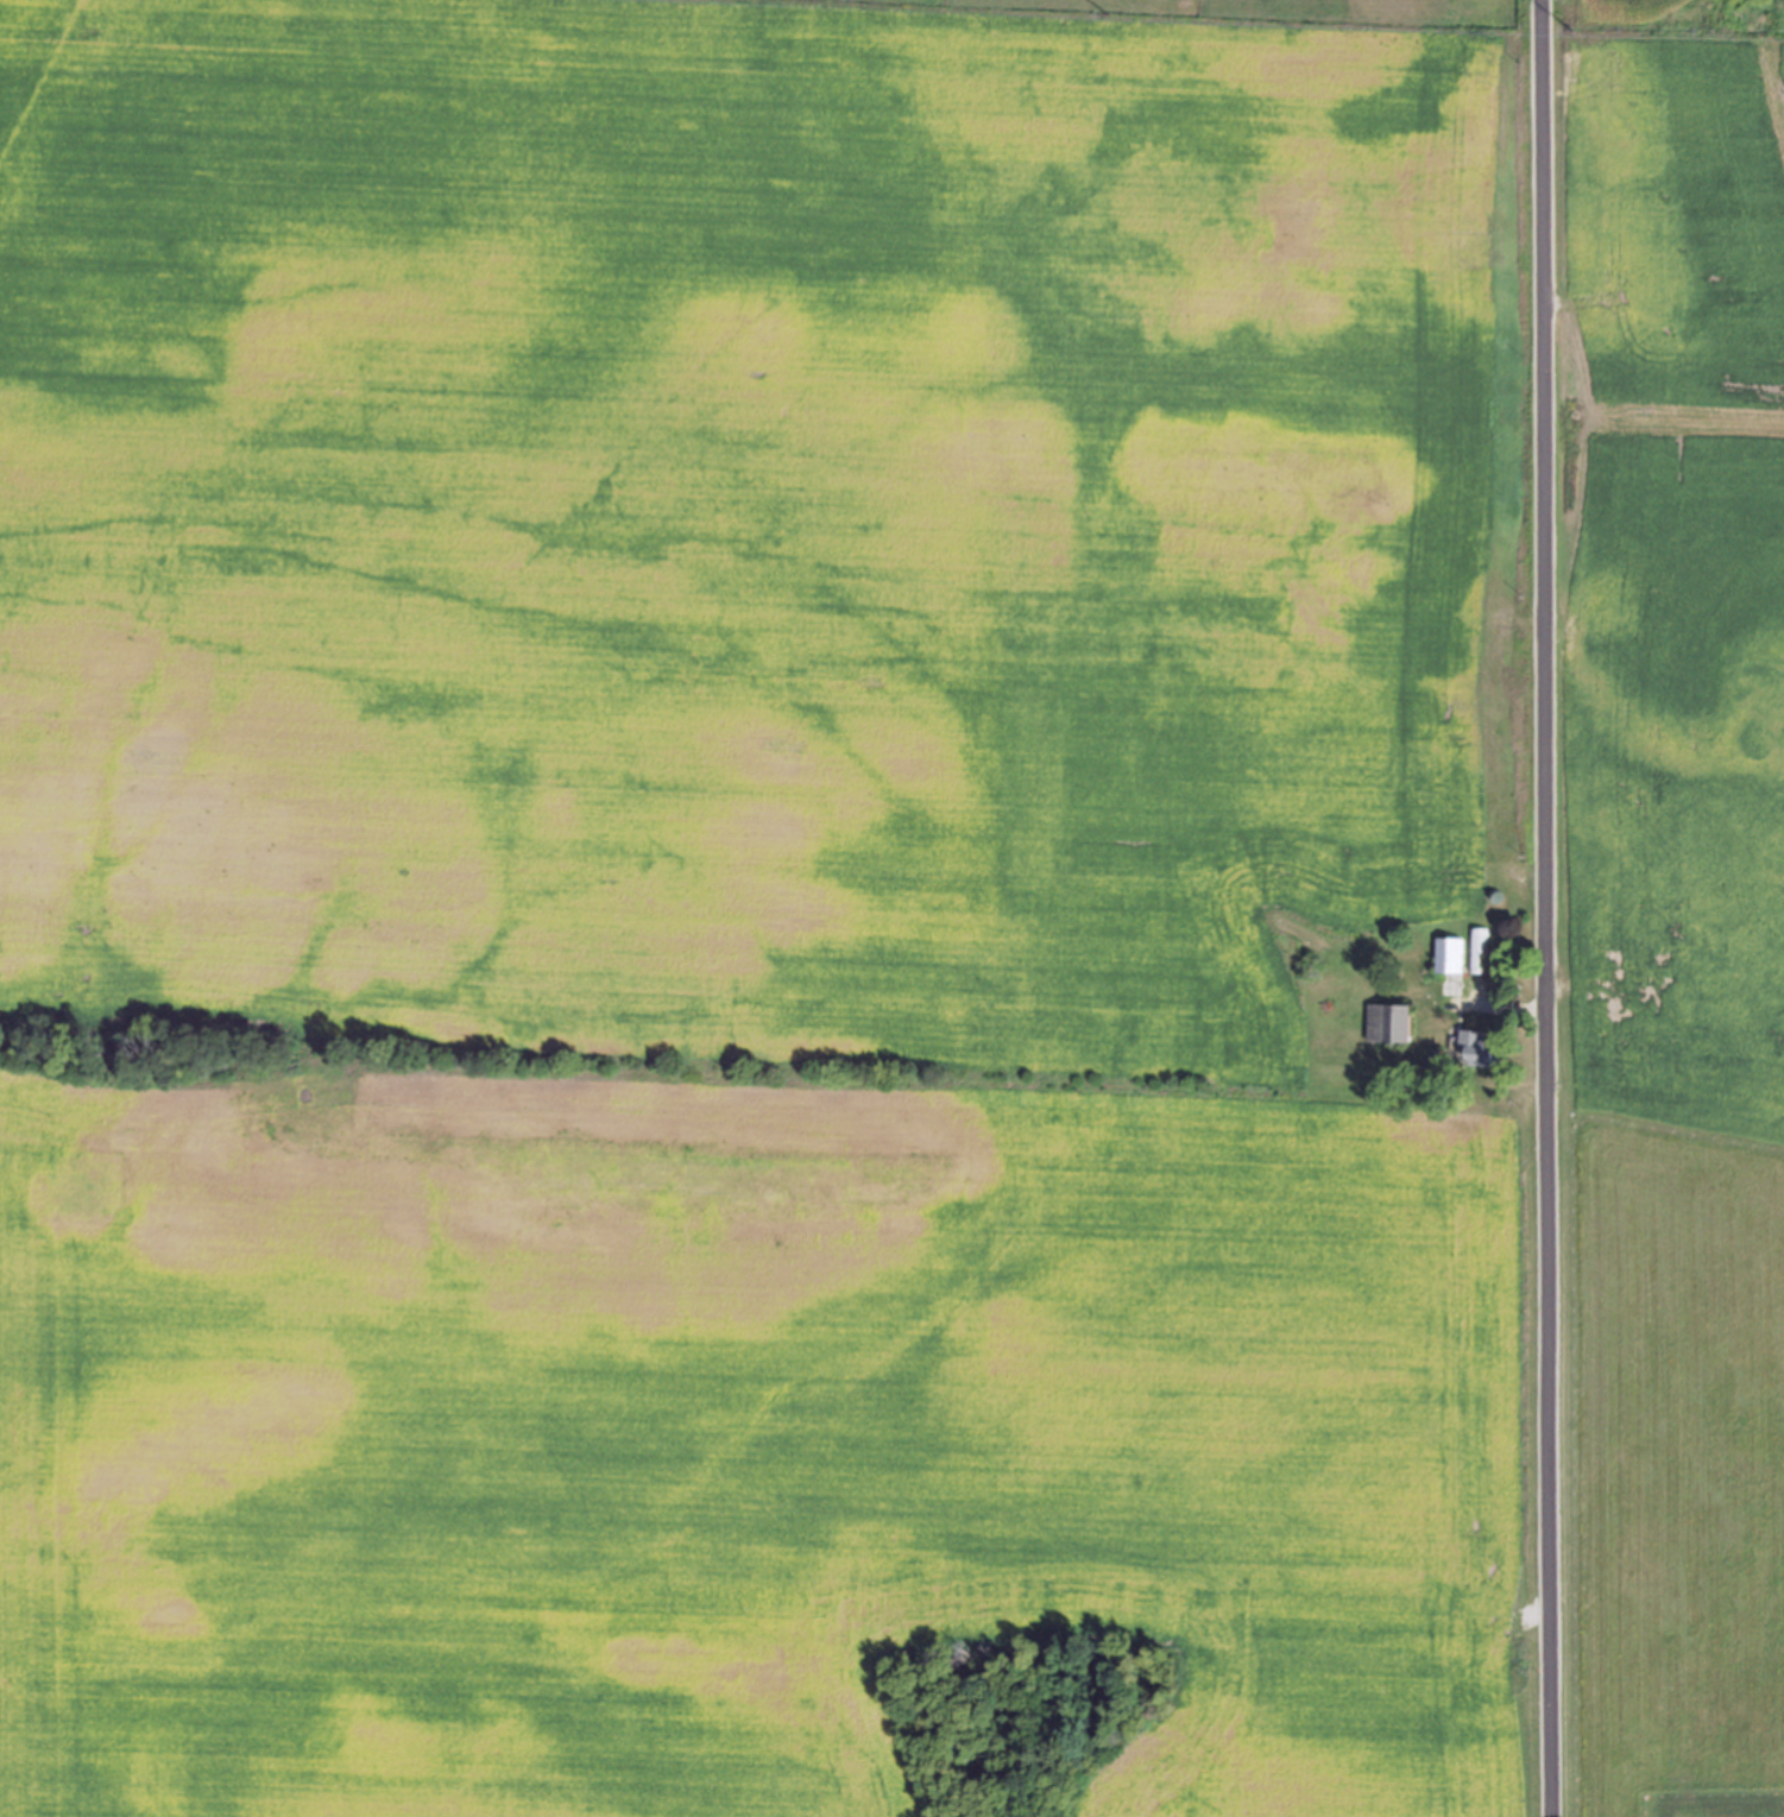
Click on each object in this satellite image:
power tower: (1109, 15)
power tower: (1576, 23)
road: (1533, 908)
building: (1479, 948)
building: (1450, 954)
building: (1388, 1022)
building: (1479, 1048)

